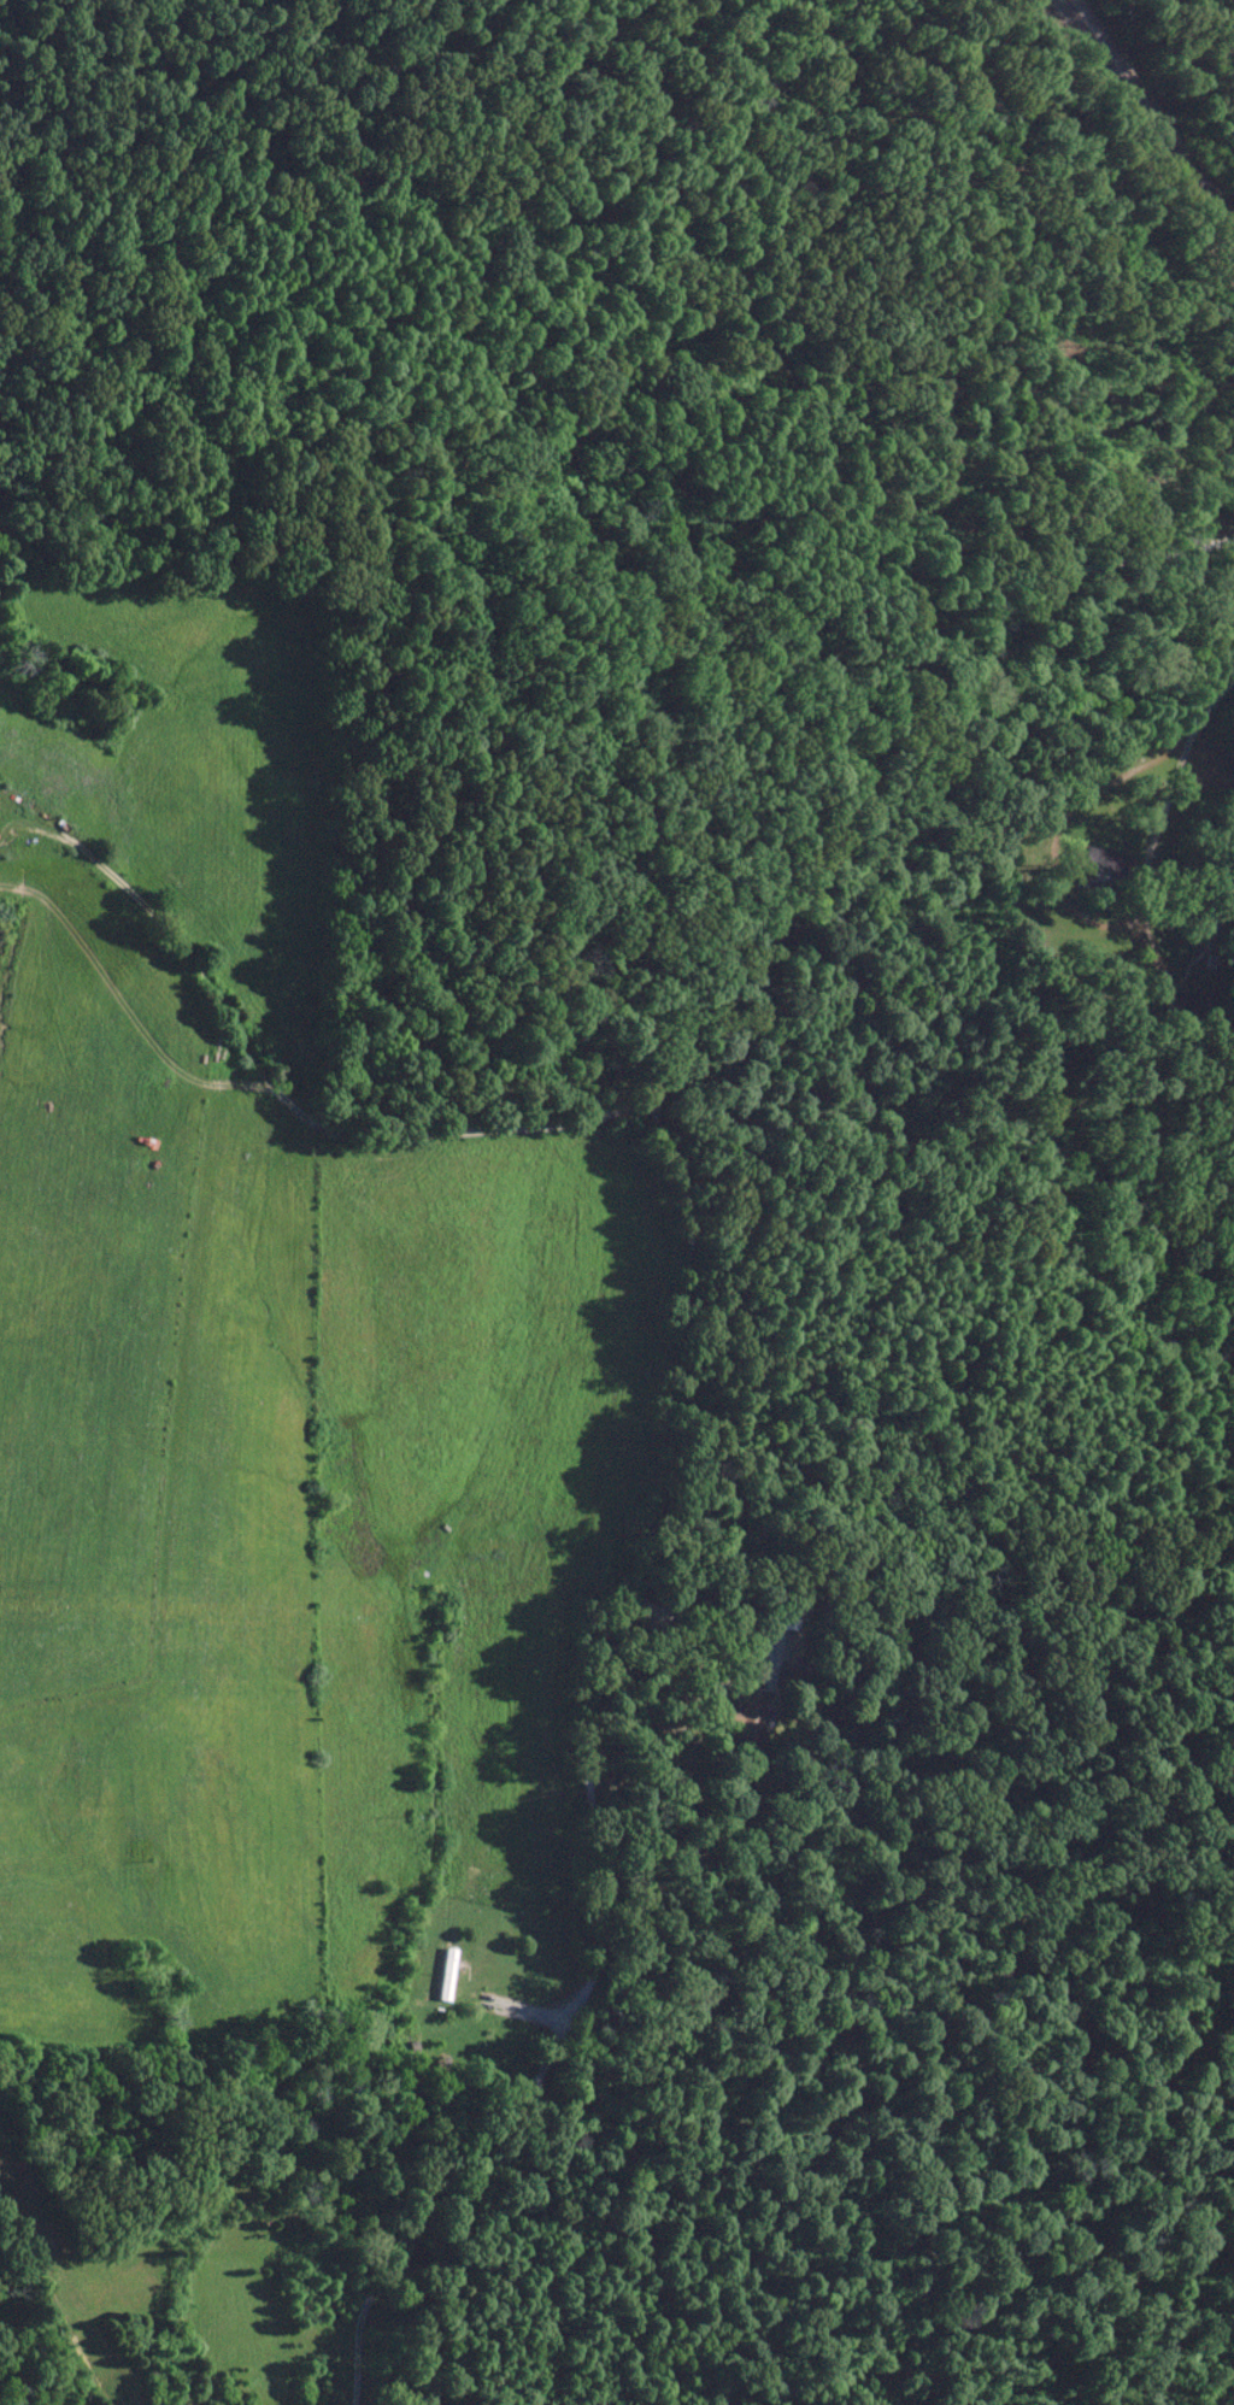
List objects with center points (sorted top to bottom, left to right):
railway: (1152, 123)
road: (1188, 739)
road: (270, 1081)
road: (654, 1342)
building: (447, 1974)

